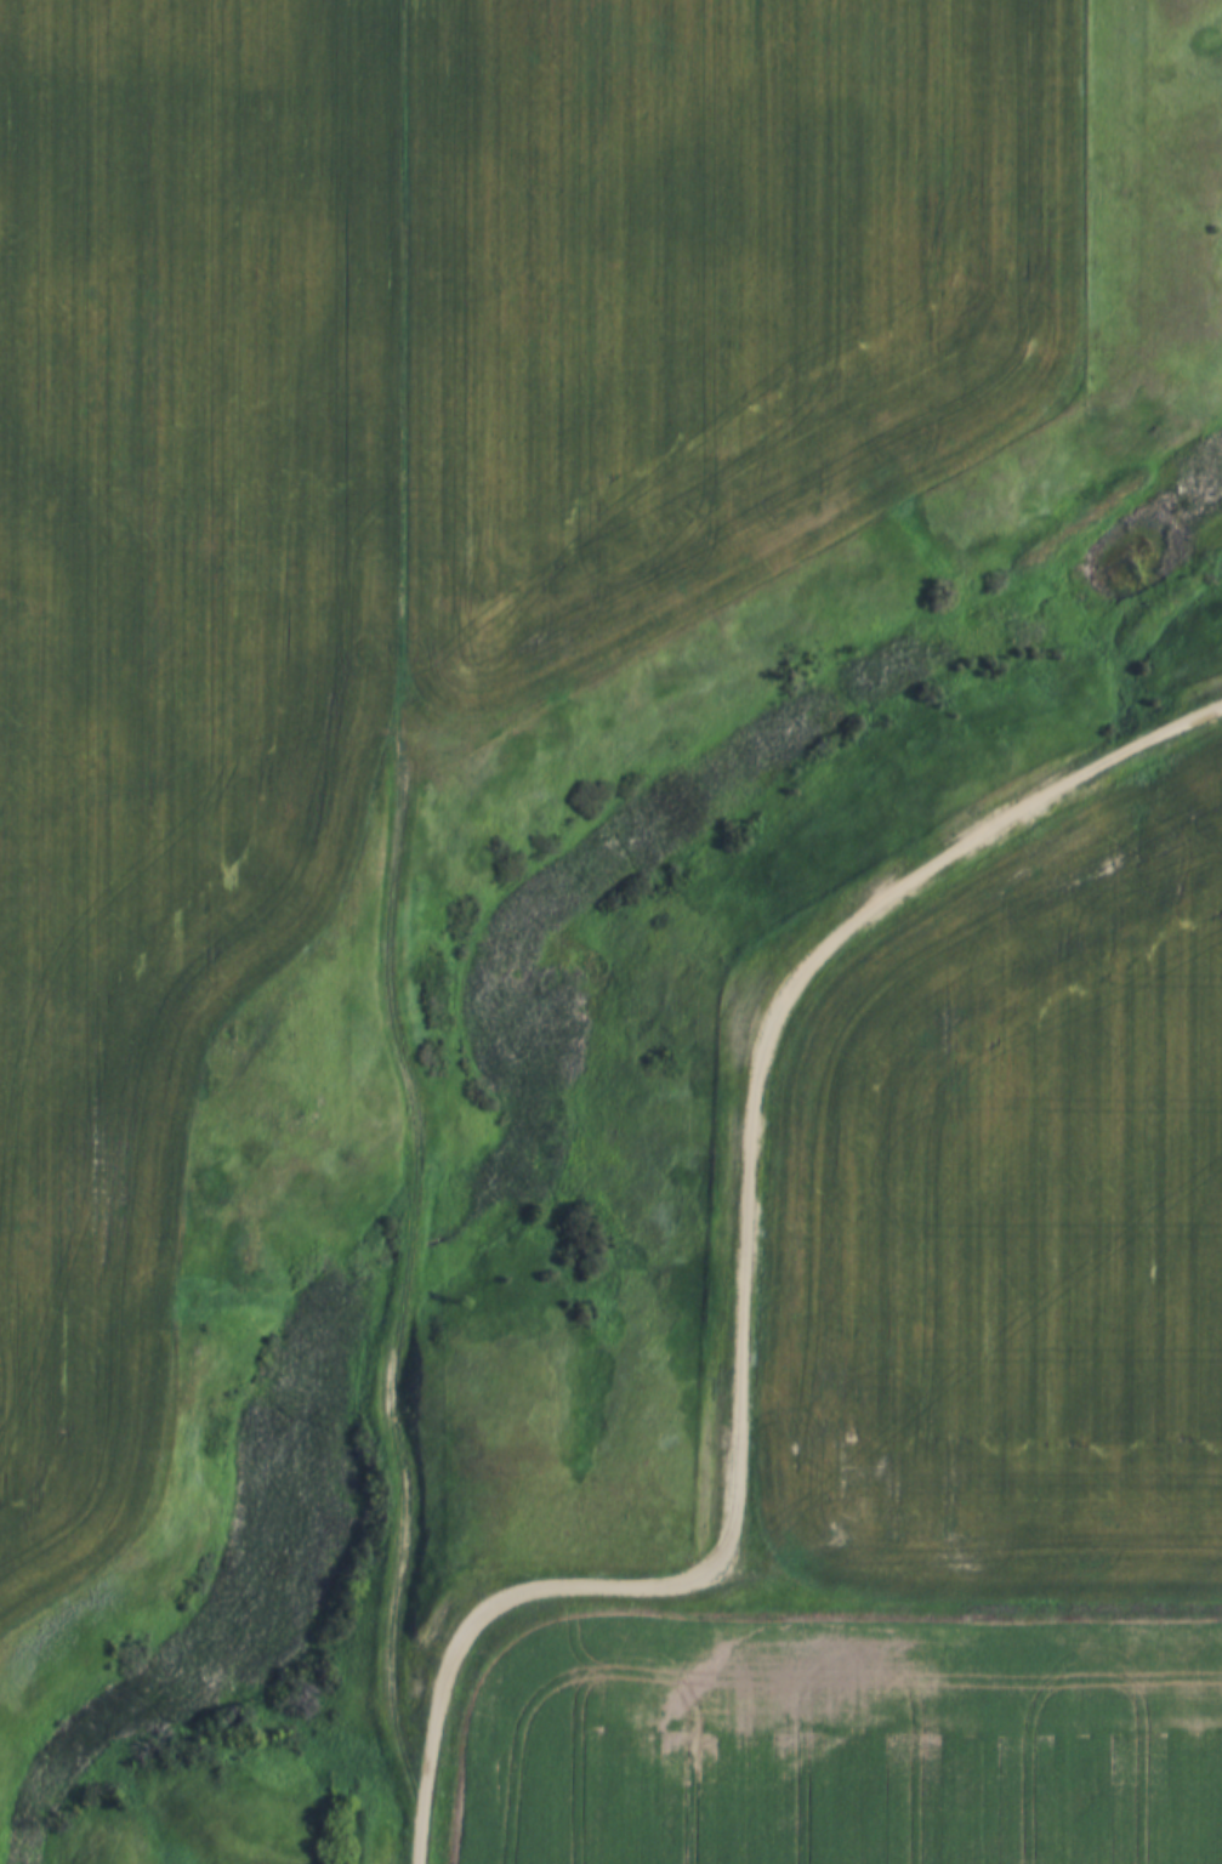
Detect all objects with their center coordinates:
road: (391, 922)
road: (743, 1249)
road: (416, 1848)

